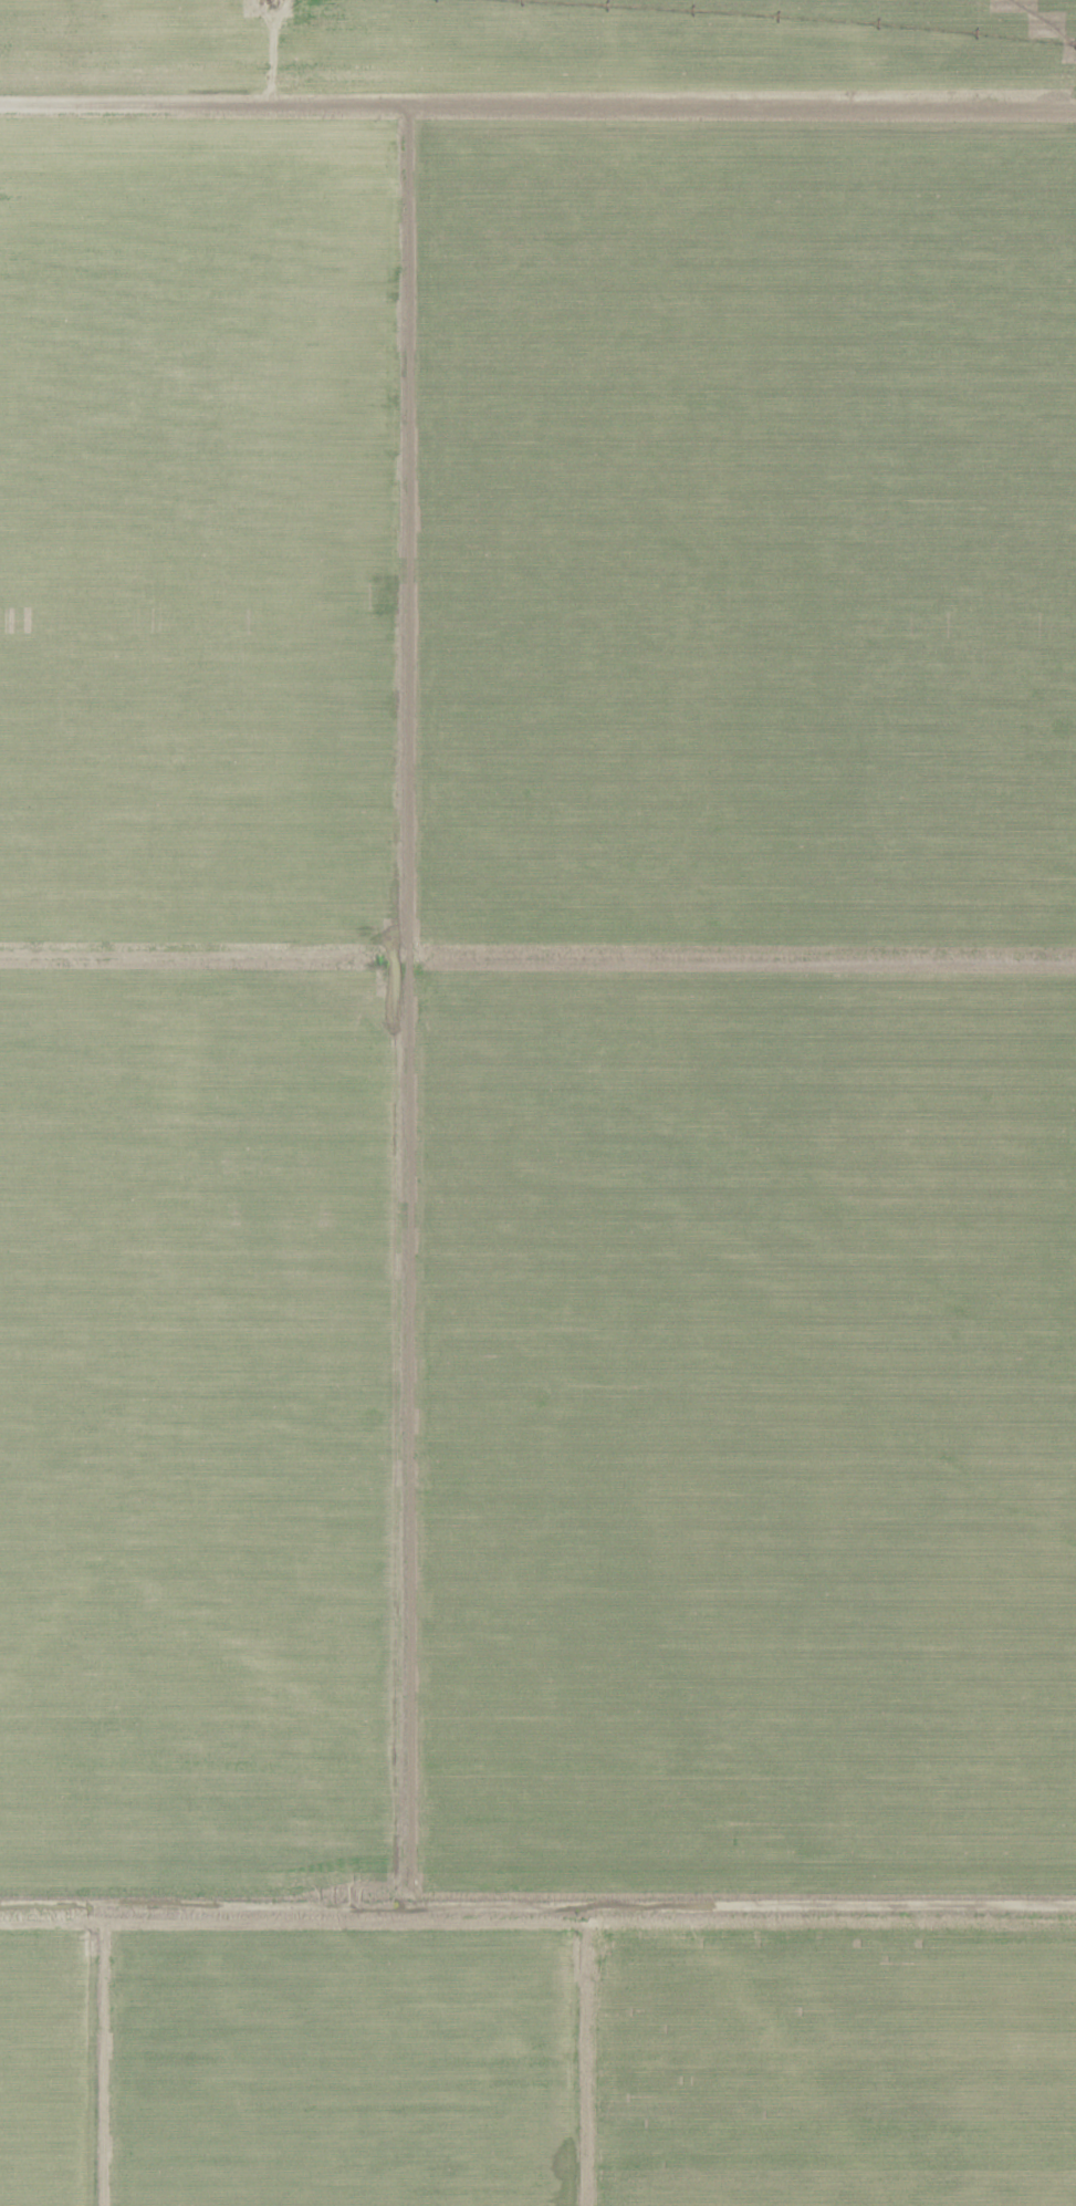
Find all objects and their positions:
road: (537, 106)

